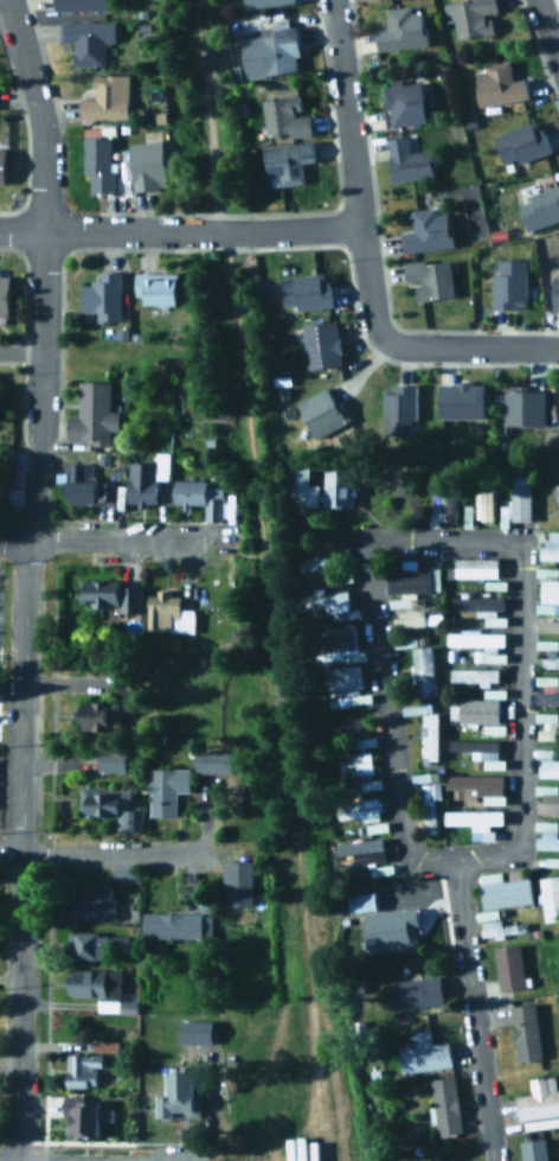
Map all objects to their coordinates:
building: (264, 2)
building: (79, 5)
building: (469, 17)
building: (401, 28)
road: (547, 33)
building: (86, 39)
building: (278, 49)
building: (497, 84)
building: (104, 100)
building: (404, 104)
building: (284, 117)
building: (521, 142)
building: (407, 160)
building: (98, 162)
building: (285, 162)
building: (2, 164)
building: (147, 165)
road: (352, 170)
building: (539, 208)
road: (179, 231)
building: (426, 231)
road: (43, 268)
building: (430, 279)
building: (508, 283)
building: (156, 288)
building: (306, 292)
building: (4, 294)
building: (555, 294)
building: (102, 298)
building: (321, 345)
road: (469, 346)
road: (20, 350)
building: (2, 400)
building: (461, 401)
building: (523, 406)
building: (398, 408)
building: (322, 413)
building: (91, 415)
building: (144, 479)
building: (12, 480)
building: (81, 484)
building: (302, 487)
building: (338, 489)
building: (555, 495)
building: (199, 497)
building: (518, 503)
building: (484, 506)
building: (442, 509)
road: (14, 541)
road: (118, 541)
road: (446, 542)
building: (550, 549)
building: (321, 563)
building: (475, 569)
building: (409, 581)
building: (111, 595)
building: (548, 597)
building: (326, 601)
building: (482, 610)
building: (167, 613)
building: (418, 618)
building: (547, 626)
building: (339, 639)
building: (475, 639)
building: (546, 645)
building: (550, 664)
building: (422, 671)
building: (473, 676)
building: (342, 678)
building: (546, 691)
building: (353, 698)
building: (478, 710)
building: (99, 716)
building: (342, 726)
building: (546, 727)
building: (429, 739)
building: (478, 752)
building: (218, 759)
building: (110, 760)
building: (354, 764)
building: (547, 764)
building: (422, 776)
building: (368, 783)
building: (476, 789)
building: (165, 790)
building: (107, 804)
building: (548, 804)
building: (428, 806)
building: (356, 809)
building: (474, 821)
building: (545, 835)
building: (362, 848)
road: (9, 849)
road: (20, 850)
road: (111, 854)
building: (237, 883)
building: (503, 888)
building: (550, 898)
building: (365, 899)
building: (96, 900)
building: (176, 925)
building: (502, 929)
building: (370, 931)
building: (98, 945)
building: (508, 968)
building: (94, 983)
building: (416, 994)
road: (471, 1009)
building: (198, 1029)
building: (525, 1033)
building: (424, 1054)
building: (83, 1071)
building: (178, 1097)
building: (538, 1101)
building: (444, 1106)
building: (84, 1115)
building: (533, 1150)

